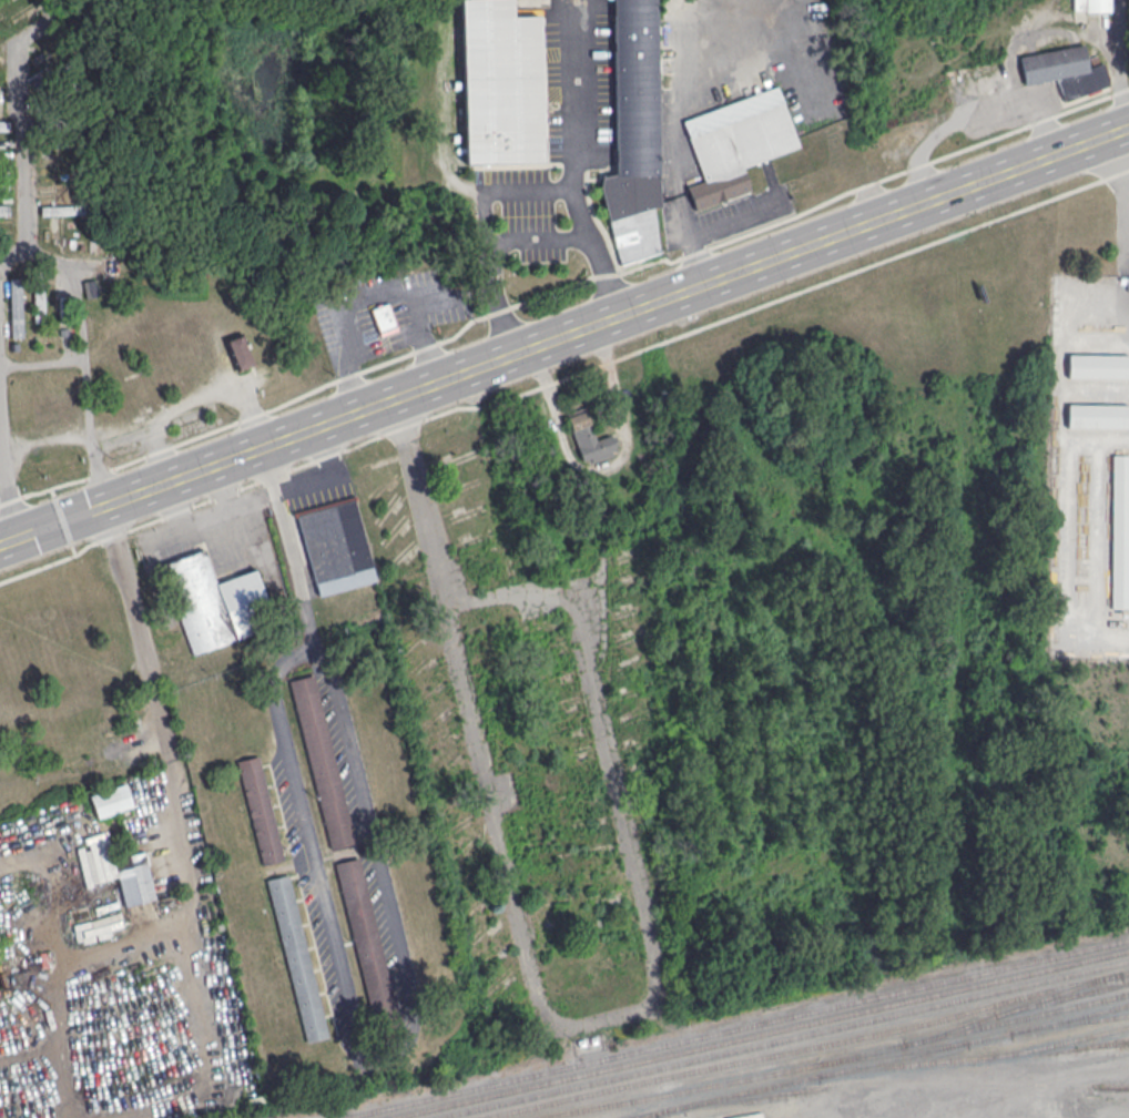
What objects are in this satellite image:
building: (1091, 6)
road: (1122, 61)
building: (2, 63)
building: (1064, 70)
building: (500, 82)
road: (1126, 121)
building: (4, 123)
building: (633, 132)
building: (3, 142)
building: (735, 142)
road: (1115, 159)
road: (570, 163)
building: (4, 209)
building: (62, 210)
road: (537, 243)
road: (699, 250)
road: (42, 251)
road: (23, 255)
road: (760, 266)
building: (92, 286)
road: (439, 286)
building: (39, 302)
building: (17, 306)
road: (499, 307)
building: (384, 317)
road: (167, 329)
road: (425, 337)
building: (238, 352)
road: (43, 359)
building: (1098, 365)
building: (1098, 415)
road: (327, 426)
building: (590, 438)
road: (604, 466)
road: (4, 474)
road: (184, 479)
road: (430, 502)
road: (54, 526)
building: (1120, 530)
building: (336, 546)
building: (215, 600)
road: (154, 680)
building: (322, 761)
building: (111, 800)
building: (260, 811)
building: (122, 871)
building: (365, 935)
building: (296, 957)
road: (400, 975)
railway: (1030, 1015)
railway: (1085, 1018)
road: (561, 1020)
railway: (736, 1028)
railway: (760, 1034)
railway: (784, 1040)
railway: (1118, 1041)
railway: (1074, 1045)
railway: (804, 1047)
railway: (990, 1054)
building: (366, 1058)
railway: (835, 1058)
railway: (878, 1060)
railway: (922, 1083)
railway: (642, 1116)

